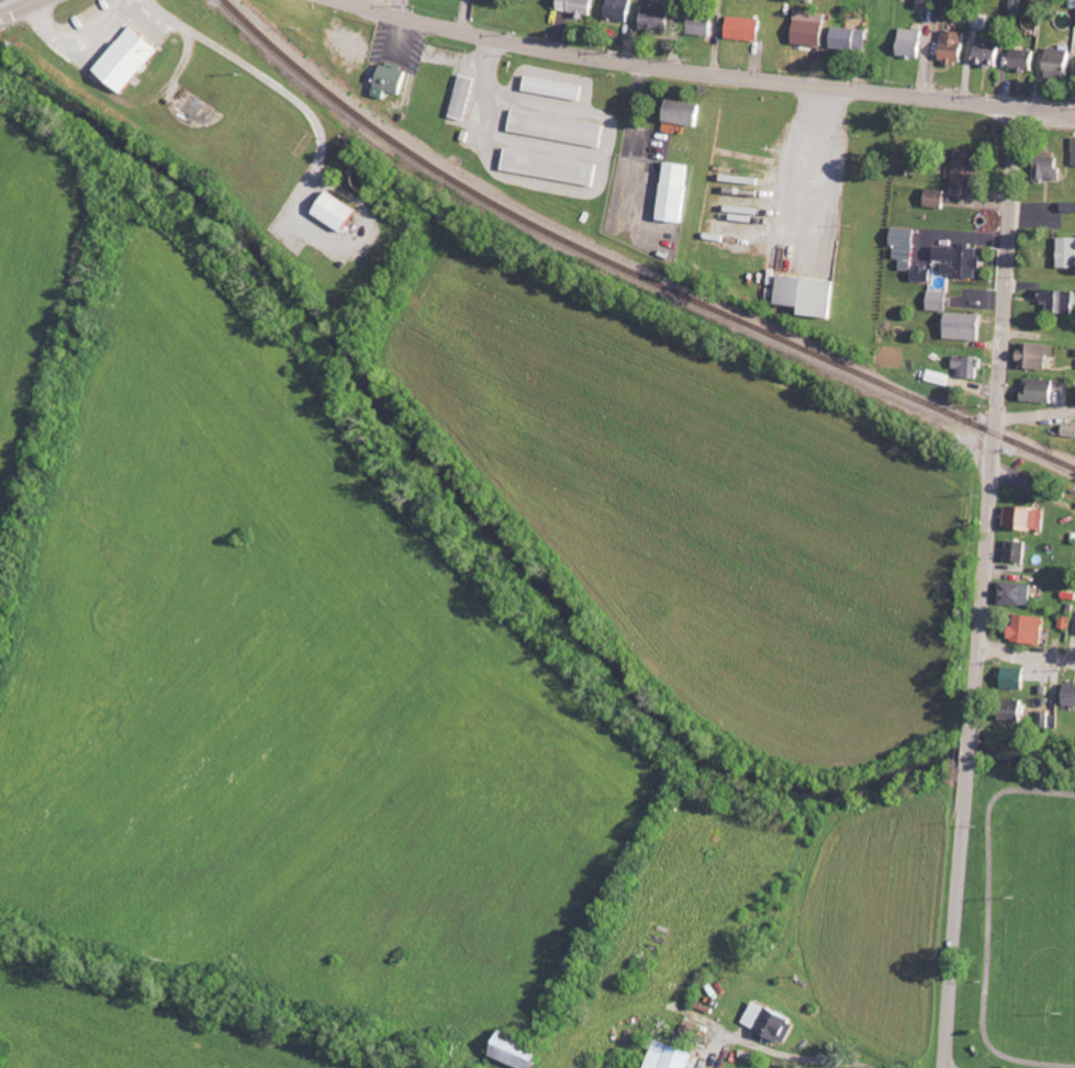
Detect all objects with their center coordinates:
building: (927, 3)
building: (580, 7)
road: (19, 8)
building: (620, 10)
building: (658, 19)
building: (705, 24)
building: (747, 29)
building: (811, 32)
building: (851, 38)
building: (912, 43)
building: (955, 47)
building: (990, 55)
building: (131, 59)
building: (1026, 59)
building: (1061, 63)
road: (160, 65)
road: (708, 70)
building: (392, 80)
building: (556, 88)
building: (464, 98)
building: (684, 115)
building: (559, 128)
building: (349, 156)
building: (1074, 160)
building: (552, 167)
building: (1052, 168)
building: (970, 173)
building: (676, 192)
building: (938, 198)
building: (339, 212)
building: (1068, 252)
building: (911, 255)
building: (962, 260)
railway: (628, 270)
building: (810, 295)
building: (940, 301)
building: (1059, 301)
building: (966, 327)
building: (1038, 356)
building: (968, 367)
building: (940, 378)
building: (1041, 390)
road: (1034, 412)
road: (994, 421)
building: (1070, 430)
building: (1028, 518)
building: (1019, 551)
building: (1018, 594)
building: (1031, 630)
road: (1027, 653)
building: (1017, 678)
building: (1071, 696)
building: (1017, 710)
road: (972, 752)
road: (959, 918)
building: (773, 1021)
building: (524, 1052)
building: (670, 1056)

